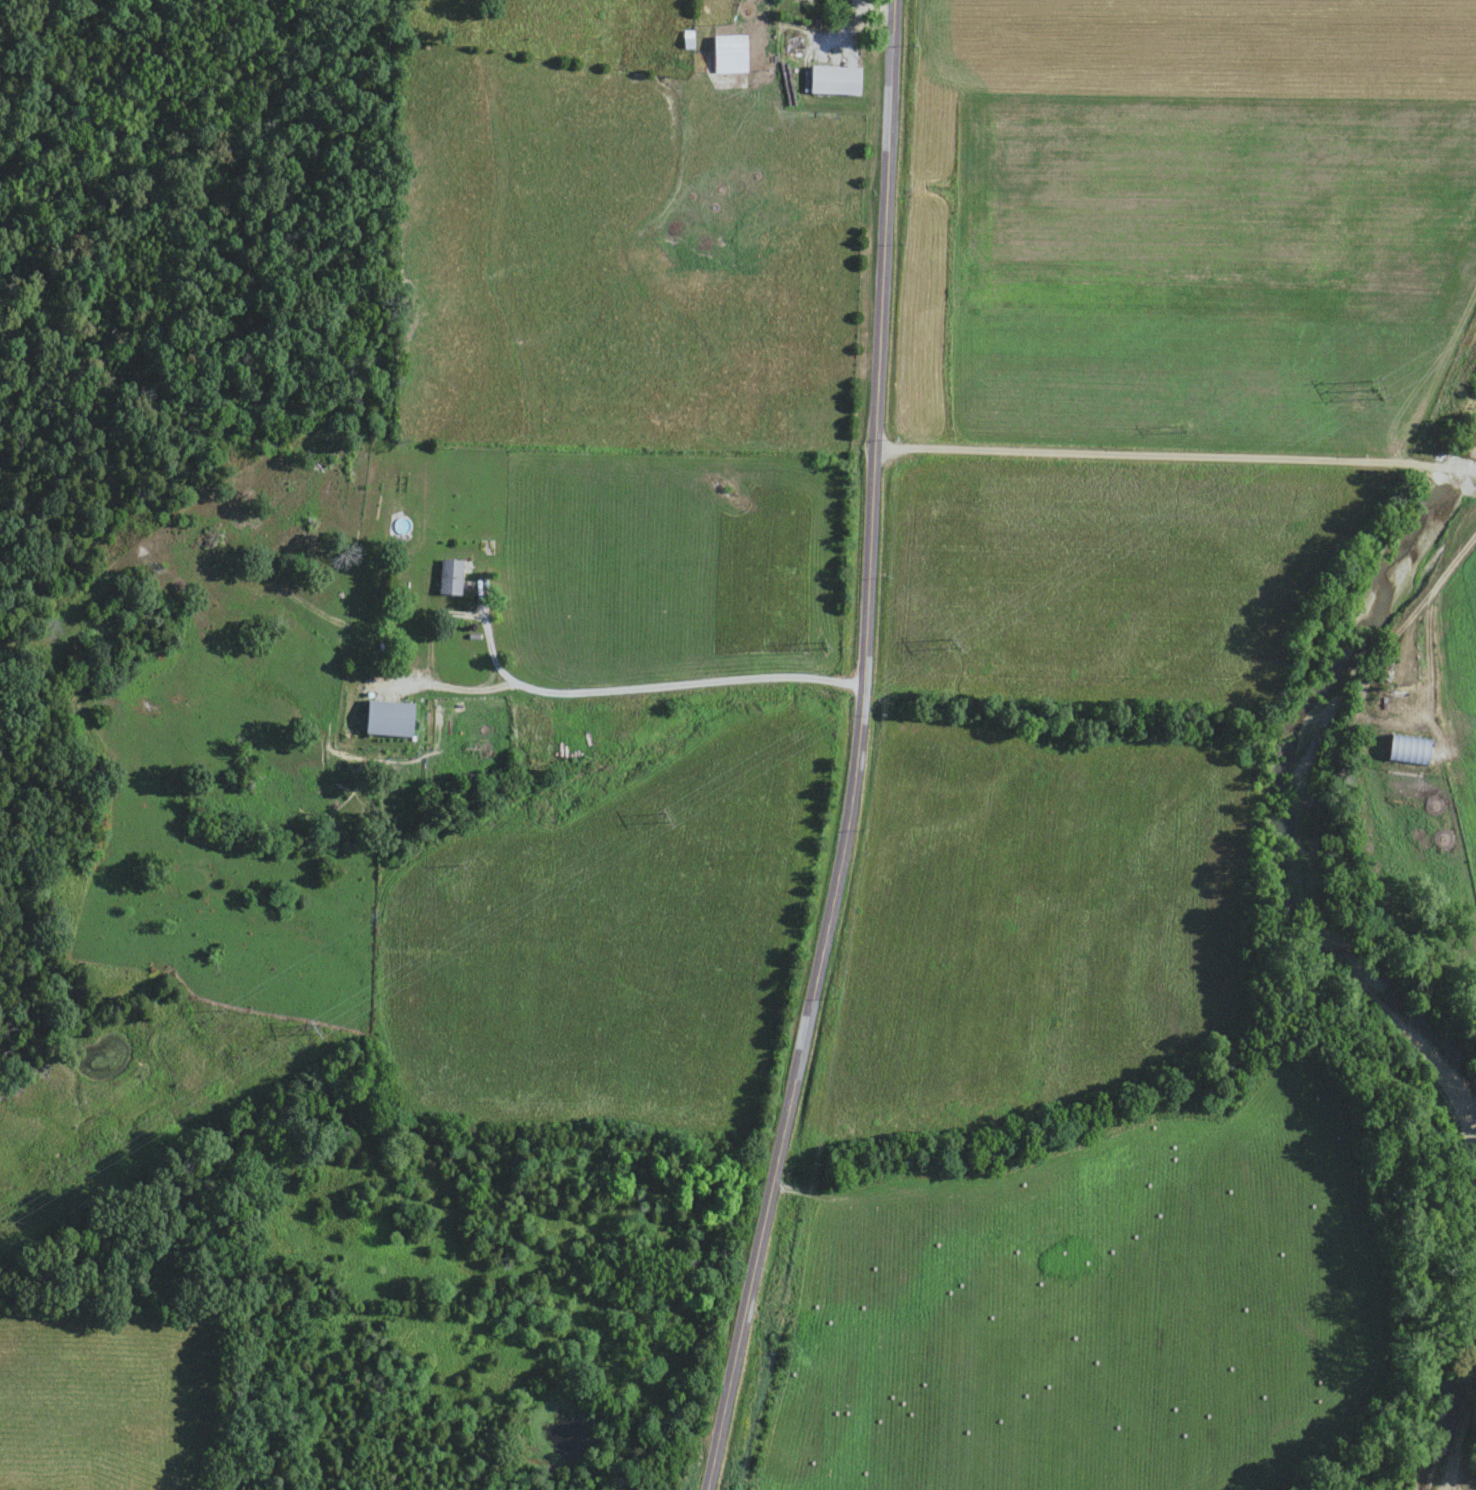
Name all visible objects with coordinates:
building: (726, 55)
building: (832, 81)
road: (1176, 454)
building: (446, 576)
road: (643, 682)
building: (386, 718)
building: (1405, 750)
road: (858, 752)

